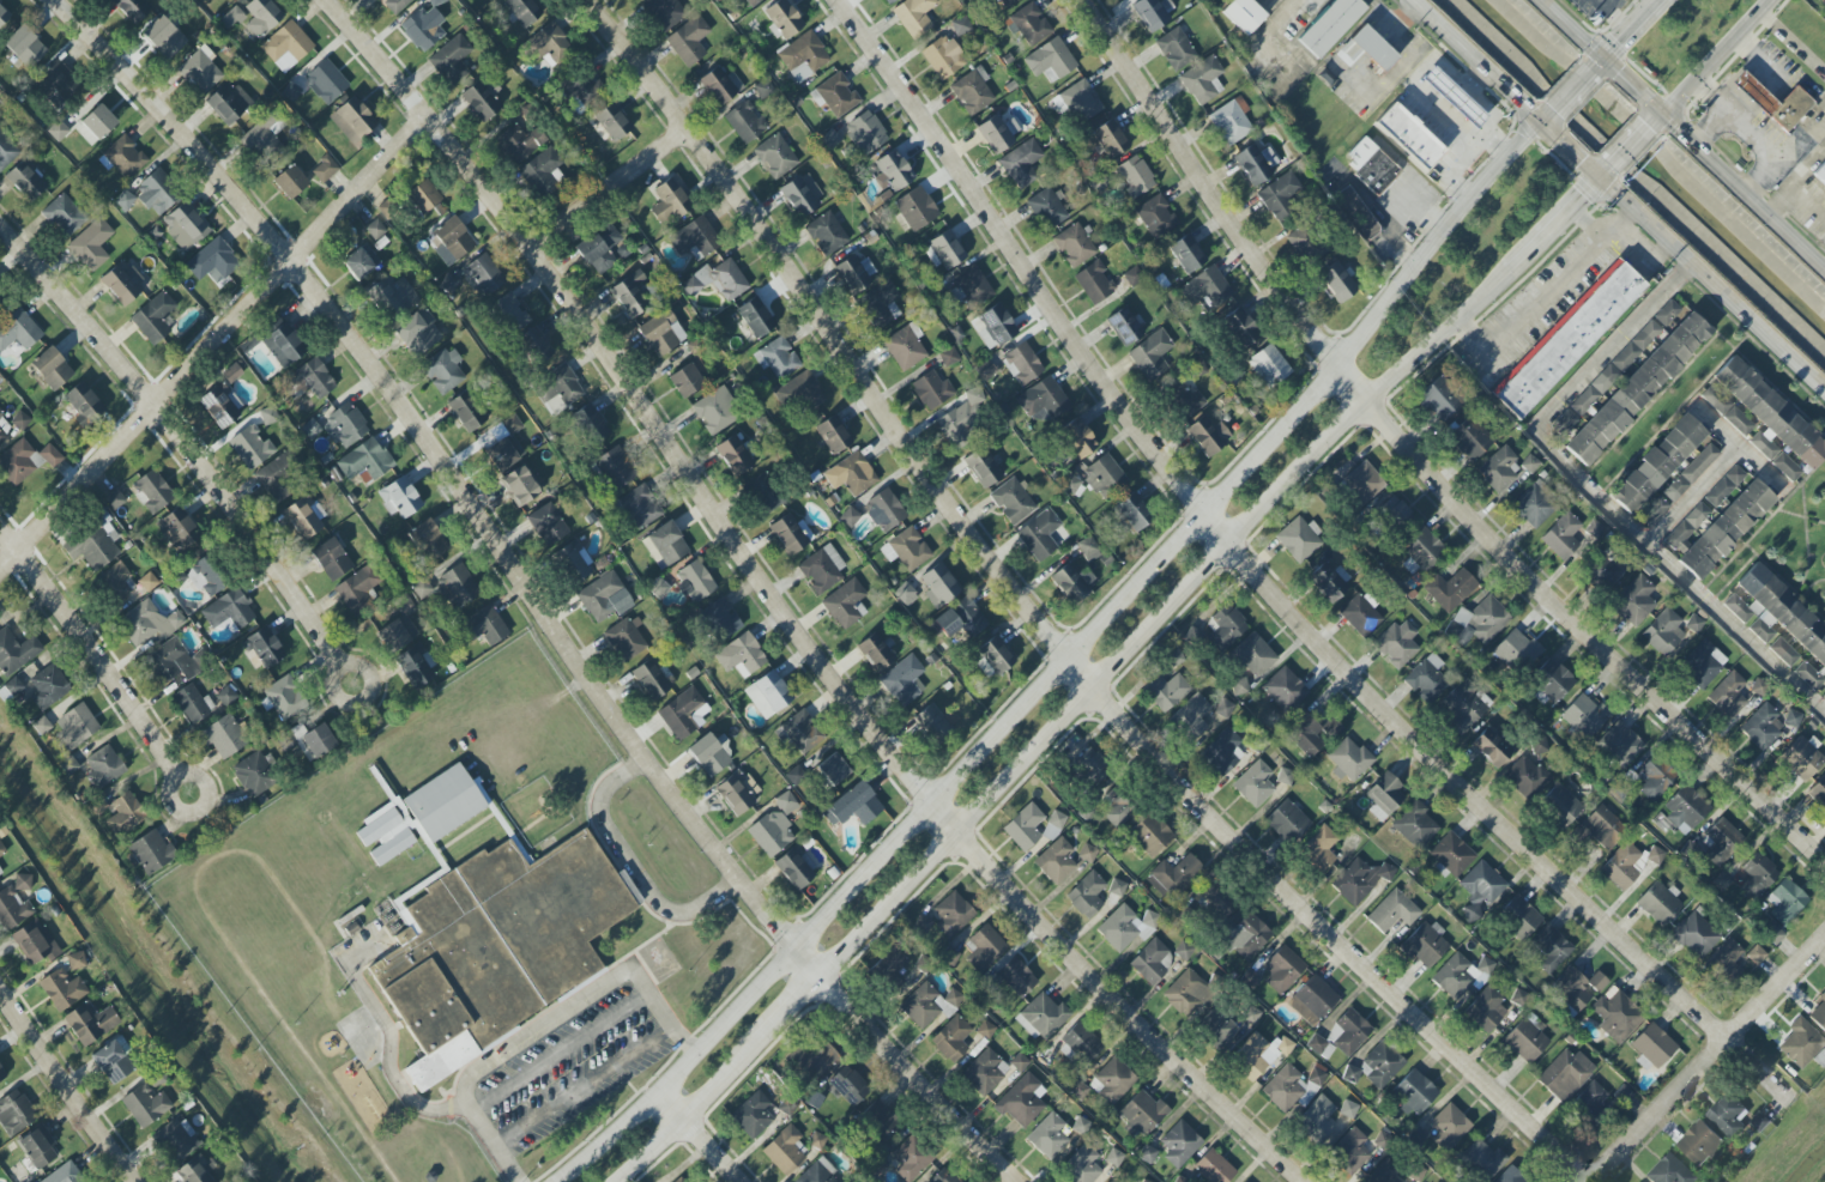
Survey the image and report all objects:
building: (756, 1)
building: (888, 1)
building: (1005, 1)
road: (1652, 1)
building: (436, 2)
building: (394, 5)
building: (132, 8)
building: (524, 11)
building: (664, 12)
building: (1153, 12)
building: (1243, 14)
road: (1612, 14)
building: (914, 16)
building: (262, 17)
building: (231, 18)
building: (782, 19)
building: (1028, 24)
building: (960, 25)
building: (1330, 25)
building: (423, 28)
road: (1628, 29)
road: (1270, 35)
building: (164, 37)
building: (688, 41)
building: (550, 43)
road: (1793, 44)
building: (286, 46)
building: (25, 47)
building: (1176, 49)
building: (1365, 49)
building: (803, 56)
road: (1718, 56)
building: (943, 57)
road: (376, 59)
building: (1050, 59)
traffic signals: (1602, 59)
building: (451, 60)
road: (1597, 62)
road: (1758, 65)
building: (200, 71)
building: (54, 80)
building: (1202, 80)
building: (326, 81)
building: (720, 85)
road: (1571, 87)
building: (582, 89)
building: (972, 91)
building: (290, 92)
building: (835, 96)
building: (1454, 97)
building: (481, 101)
building: (1081, 101)
building: (228, 102)
building: (1775, 103)
traffic signals: (1663, 113)
road: (1545, 115)
road: (1658, 117)
building: (352, 119)
building: (1231, 121)
traffic signals: (1540, 121)
building: (744, 122)
building: (609, 123)
building: (85, 125)
road: (1747, 125)
road: (1712, 127)
building: (865, 133)
road: (1684, 133)
building: (996, 134)
building: (1409, 135)
building: (265, 139)
building: (1110, 139)
building: (832, 140)
building: (519, 144)
road: (1631, 145)
building: (6, 151)
building: (774, 157)
building: (122, 158)
building: (1255, 163)
building: (1021, 164)
building: (1371, 165)
building: (324, 169)
building: (543, 171)
building: (892, 171)
road: (1605, 172)
building: (1820, 174)
building: (1135, 176)
road: (1791, 176)
traffic signals: (1600, 177)
building: (25, 181)
building: (290, 182)
building: (1099, 183)
road: (610, 188)
building: (156, 193)
road: (1618, 194)
building: (802, 195)
building: (423, 196)
building: (1279, 196)
building: (125, 200)
road: (1806, 200)
building: (670, 201)
building: (915, 208)
building: (1046, 208)
building: (1356, 213)
building: (64, 216)
building: (567, 216)
building: (1156, 217)
road: (1590, 224)
road: (1554, 225)
building: (186, 226)
building: (375, 230)
building: (826, 234)
building: (693, 240)
building: (451, 241)
road: (1436, 241)
building: (91, 244)
building: (1074, 244)
building: (1303, 244)
building: (599, 248)
building: (944, 250)
road: (1644, 253)
building: (1186, 254)
building: (212, 261)
building: (361, 262)
building: (854, 273)
building: (483, 275)
building: (1132, 277)
building: (718, 280)
building: (1336, 281)
building: (122, 283)
building: (1094, 283)
building: (971, 287)
building: (1207, 290)
building: (0, 295)
building: (394, 295)
building: (630, 295)
road: (1547, 297)
building: (880, 305)
building: (510, 313)
building: (1667, 313)
building: (153, 317)
building: (755, 317)
building: (1124, 326)
building: (995, 327)
building: (1239, 328)
building: (18, 331)
building: (417, 332)
building: (660, 333)
road: (1439, 340)
building: (1569, 340)
road: (213, 345)
building: (284, 345)
building: (534, 346)
building: (905, 346)
building: (1150, 354)
building: (948, 357)
building: (776, 358)
building: (1021, 364)
building: (1269, 365)
building: (1615, 366)
building: (52, 369)
building: (1196, 369)
building: (443, 370)
building: (985, 370)
building: (231, 374)
building: (689, 378)
building: (309, 380)
building: (561, 388)
building: (1637, 388)
building: (931, 390)
building: (804, 392)
building: (1184, 399)
building: (1043, 400)
building: (1438, 400)
building: (83, 405)
building: (219, 406)
building: (466, 411)
building: (714, 411)
building: (1760, 412)
building: (1, 414)
building: (20, 420)
building: (960, 420)
building: (1564, 423)
building: (588, 424)
building: (344, 425)
building: (310, 429)
building: (833, 435)
building: (1208, 435)
building: (2, 436)
building: (1468, 437)
building: (1077, 438)
road: (182, 440)
building: (1764, 445)
building: (504, 447)
building: (248, 448)
road: (1744, 448)
building: (733, 456)
building: (25, 461)
road: (1415, 461)
building: (1529, 463)
building: (1656, 463)
road: (434, 465)
building: (983, 467)
building: (1785, 467)
building: (615, 468)
building: (1498, 469)
building: (1691, 472)
building: (851, 474)
building: (1104, 477)
building: (274, 481)
building: (1364, 481)
building: (1071, 484)
building: (519, 486)
building: (1724, 486)
building: (152, 491)
road: (1603, 492)
building: (763, 493)
building: (399, 497)
road: (1697, 497)
building: (114, 498)
building: (1013, 501)
building: (1660, 505)
building: (639, 507)
building: (1533, 507)
building: (884, 510)
building: (1394, 511)
building: (1131, 513)
building: (303, 517)
building: (850, 517)
building: (546, 525)
building: (1686, 528)
building: (1726, 529)
building: (177, 531)
building: (791, 534)
building: (1039, 534)
building: (1561, 537)
building: (1299, 539)
building: (427, 540)
building: (93, 544)
building: (664, 545)
building: (906, 548)
building: (1088, 550)
building: (1424, 550)
building: (1824, 558)
building: (331, 559)
building: (573, 563)
building: (822, 568)
building: (1602, 572)
building: (206, 577)
building: (694, 581)
building: (1071, 581)
building: (115, 582)
building: (147, 582)
building: (1329, 582)
building: (659, 586)
building: (938, 586)
building: (457, 587)
building: (357, 589)
building: (422, 589)
road: (1265, 589)
building: (1450, 589)
building: (907, 595)
building: (603, 598)
building: (1633, 598)
building: (845, 604)
building: (229, 611)
building: (1777, 613)
building: (1360, 614)
building: (720, 619)
building: (961, 619)
building: (1481, 620)
building: (147, 623)
building: (1694, 623)
building: (399, 626)
building: (483, 626)
building: (1225, 628)
road: (1041, 630)
building: (1663, 632)
building: (624, 640)
building: (1397, 644)
building: (264, 647)
road: (89, 650)
building: (16, 651)
building: (1517, 651)
building: (1783, 651)
building: (875, 653)
building: (741, 655)
building: (1253, 655)
building: (993, 657)
road: (1068, 659)
building: (169, 662)
building: (1702, 663)
building: (416, 665)
road: (351, 667)
building: (1808, 675)
road: (829, 678)
building: (1426, 679)
building: (651, 680)
building: (904, 680)
building: (1553, 680)
building: (38, 685)
building: (1238, 686)
building: (1759, 687)
road: (1093, 689)
building: (1285, 690)
building: (1166, 691)
building: (768, 695)
building: (1728, 695)
building: (226, 696)
building: (282, 699)
building: (192, 704)
building: (1466, 705)
building: (1223, 708)
building: (683, 714)
building: (1584, 715)
building: (1191, 716)
building: (1791, 719)
building: (932, 722)
building: (74, 726)
building: (1763, 727)
building: (799, 733)
building: (1312, 733)
building: (224, 737)
building: (308, 740)
building: (1620, 744)
building: (1539, 746)
building: (1491, 747)
building: (1222, 752)
building: (709, 754)
building: (1801, 758)
building: (1348, 759)
building: (1089, 766)
building: (103, 769)
building: (833, 770)
road: (191, 775)
building: (253, 775)
building: (1285, 776)
building: (1523, 776)
building: (1655, 778)
building: (1255, 784)
building: (1818, 793)
building: (735, 794)
building: (1384, 795)
building: (443, 802)
building: (786, 802)
building: (1561, 804)
building: (854, 805)
building: (96, 806)
building: (1118, 807)
building: (1685, 808)
building: (123, 813)
building: (1287, 822)
building: (1053, 825)
building: (1415, 825)
building: (1023, 828)
building: (1600, 829)
building: (772, 834)
building: (1150, 834)
building: (385, 835)
building: (1721, 842)
building: (1319, 848)
building: (1, 850)
building: (150, 853)
building: (1087, 853)
building: (1451, 855)
building: (1655, 855)
building: (1056, 861)
building: (1622, 865)
road: (630, 868)
building: (794, 868)
building: (1176, 874)
building: (1757, 875)
building: (1359, 880)
building: (20, 881)
building: (1117, 887)
building: (1480, 890)
building: (1087, 895)
building: (1215, 903)
building: (1658, 903)
building: (1784, 903)
building: (12, 909)
building: (1392, 911)
building: (948, 915)
building: (1518, 916)
building: (1125, 927)
building: (1772, 933)
building: (1245, 935)
building: (1696, 935)
building: (34, 942)
building: (1425, 945)
building: (495, 947)
building: (985, 948)
building: (1551, 948)
building: (1183, 951)
building: (1755, 954)
building: (950, 956)
building: (75, 960)
road: (808, 960)
building: (1726, 960)
building: (1152, 962)
building: (890, 968)
building: (1282, 969)
building: (1458, 975)
building: (1016, 976)
building: (1577, 988)
building: (62, 989)
building: (1186, 993)
building: (1312, 1000)
building: (929, 1005)
road: (790, 1008)
building: (1486, 1010)
building: (1819, 1013)
building: (1250, 1014)
building: (1043, 1017)
building: (1616, 1017)
road: (726, 1019)
building: (90, 1023)
building: (1216, 1028)
building: (985, 1030)
building: (1348, 1034)
building: (951, 1039)
building: (1525, 1039)
building: (1801, 1043)
building: (1078, 1044)
building: (1319, 1047)
building: (1651, 1048)
road: (560, 1051)
building: (1258, 1054)
road: (1708, 1056)
building: (815, 1060)
building: (111, 1062)
building: (1019, 1062)
building: (1380, 1065)
road: (478, 1069)
building: (984, 1072)
building: (1, 1073)
building: (1565, 1074)
road: (75, 1078)
road: (917, 1078)
road: (720, 1080)
building: (1112, 1080)
building: (848, 1085)
road: (585, 1086)
building: (1291, 1087)
building: (1413, 1092)
building: (1590, 1097)
building: (1021, 1101)
building: (146, 1105)
road: (670, 1105)
building: (787, 1107)
building: (1348, 1109)
building: (14, 1113)
building: (1142, 1113)
building: (753, 1115)
building: (1728, 1116)
building: (880, 1119)
building: (1317, 1119)
road: (624, 1120)
building: (1449, 1127)
building: (1047, 1136)
building: (175, 1140)
building: (816, 1140)
building: (1383, 1140)
road: (492, 1142)
building: (1179, 1144)
building: (1699, 1144)
building: (37, 1147)
road: (649, 1147)
road: (714, 1151)
building: (785, 1151)
building: (1350, 1151)
building: (1147, 1154)
building: (1114, 1157)
building: (908, 1158)
building: (1483, 1159)
road: (573, 1165)
building: (1081, 1166)
building: (1214, 1168)
building: (195, 1170)
building: (1670, 1171)
building: (1415, 1172)
building: (64, 1174)
building: (1384, 1174)
building: (815, 1175)
building: (943, 1176)
building: (1509, 1176)
road: (614, 1178)
building: (679, 1180)
building: (1180, 1180)
building: (1144, 1181)

